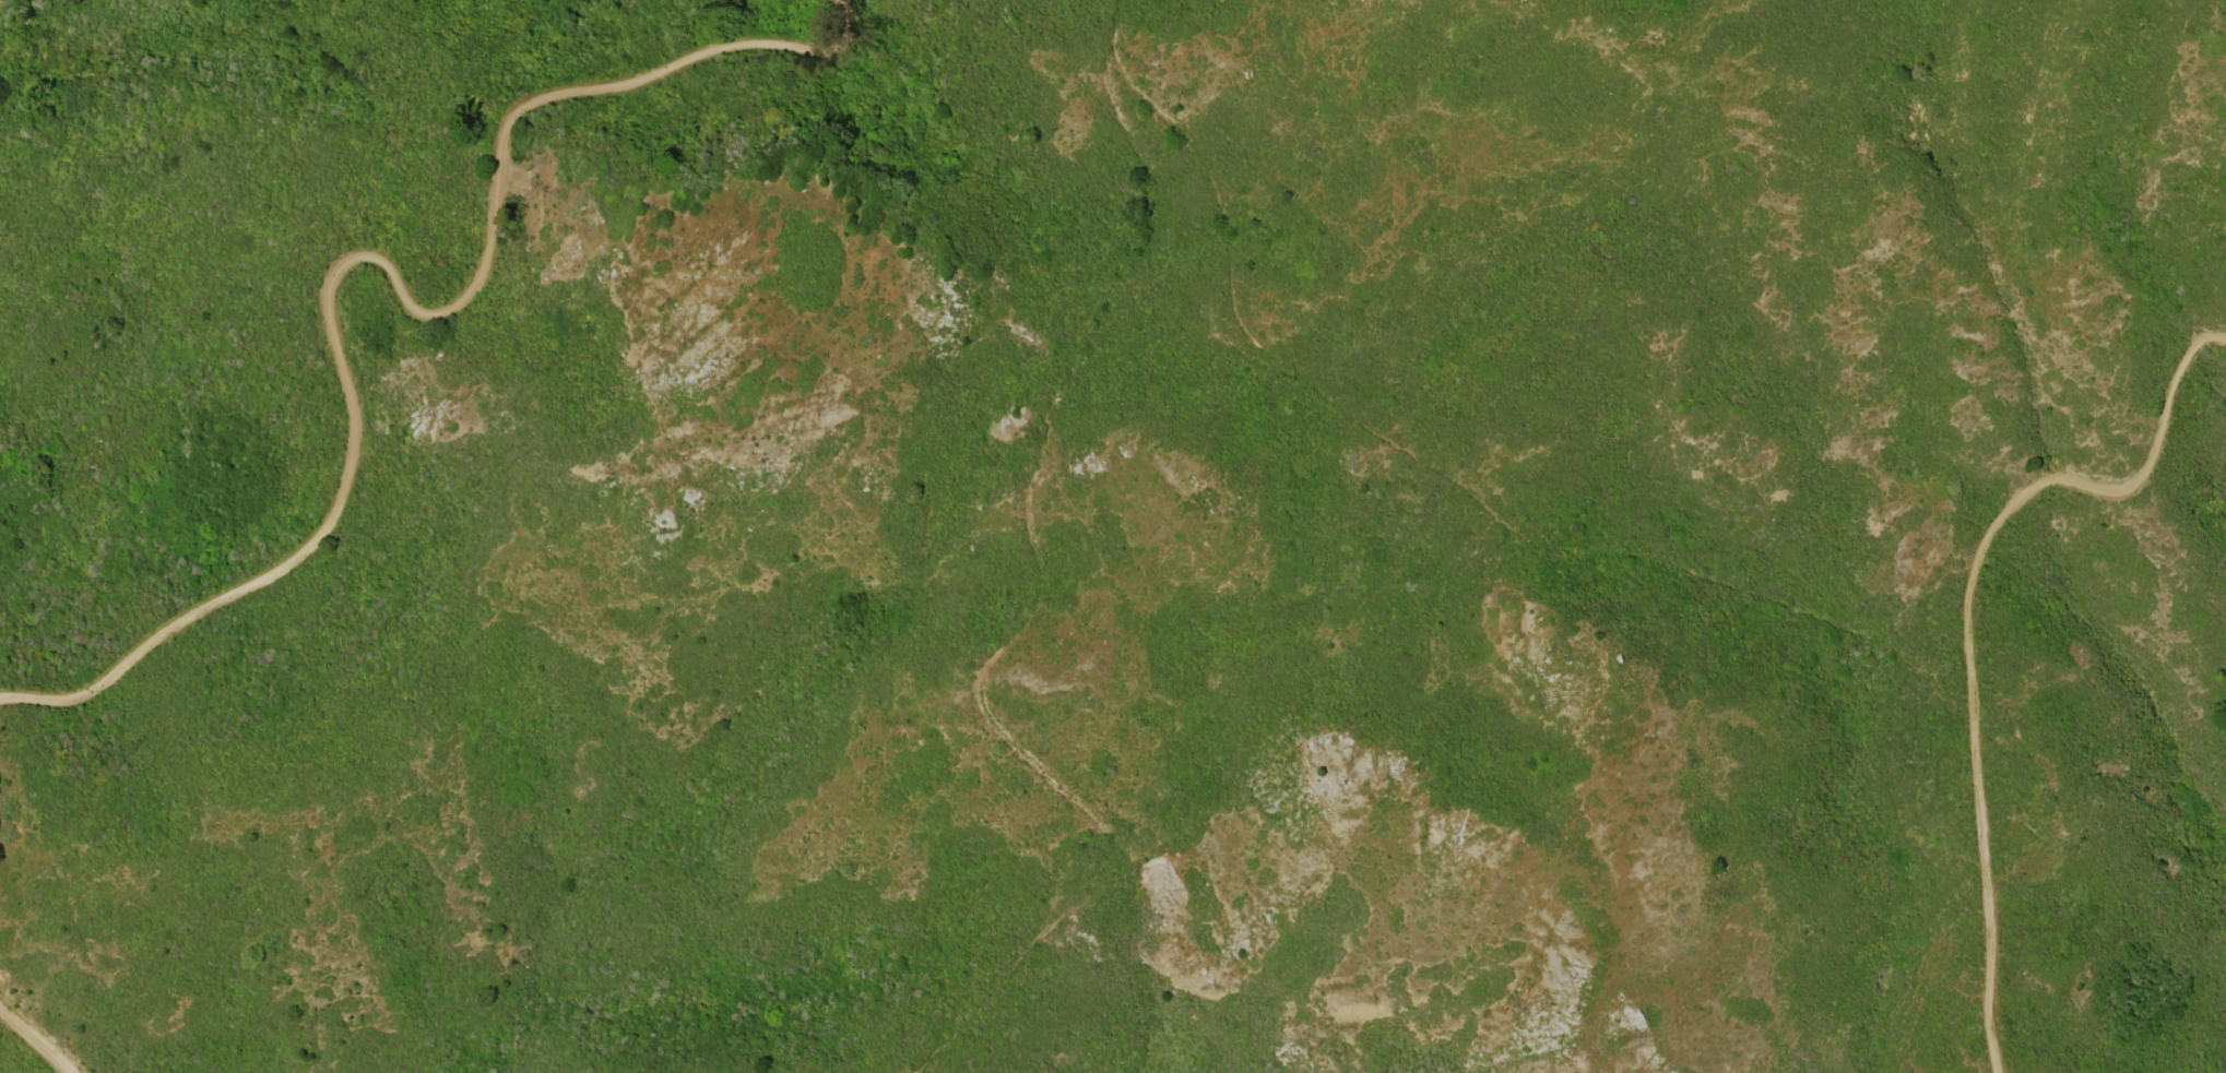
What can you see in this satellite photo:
road: (380, 259)
road: (1968, 622)
road: (34, 1041)

